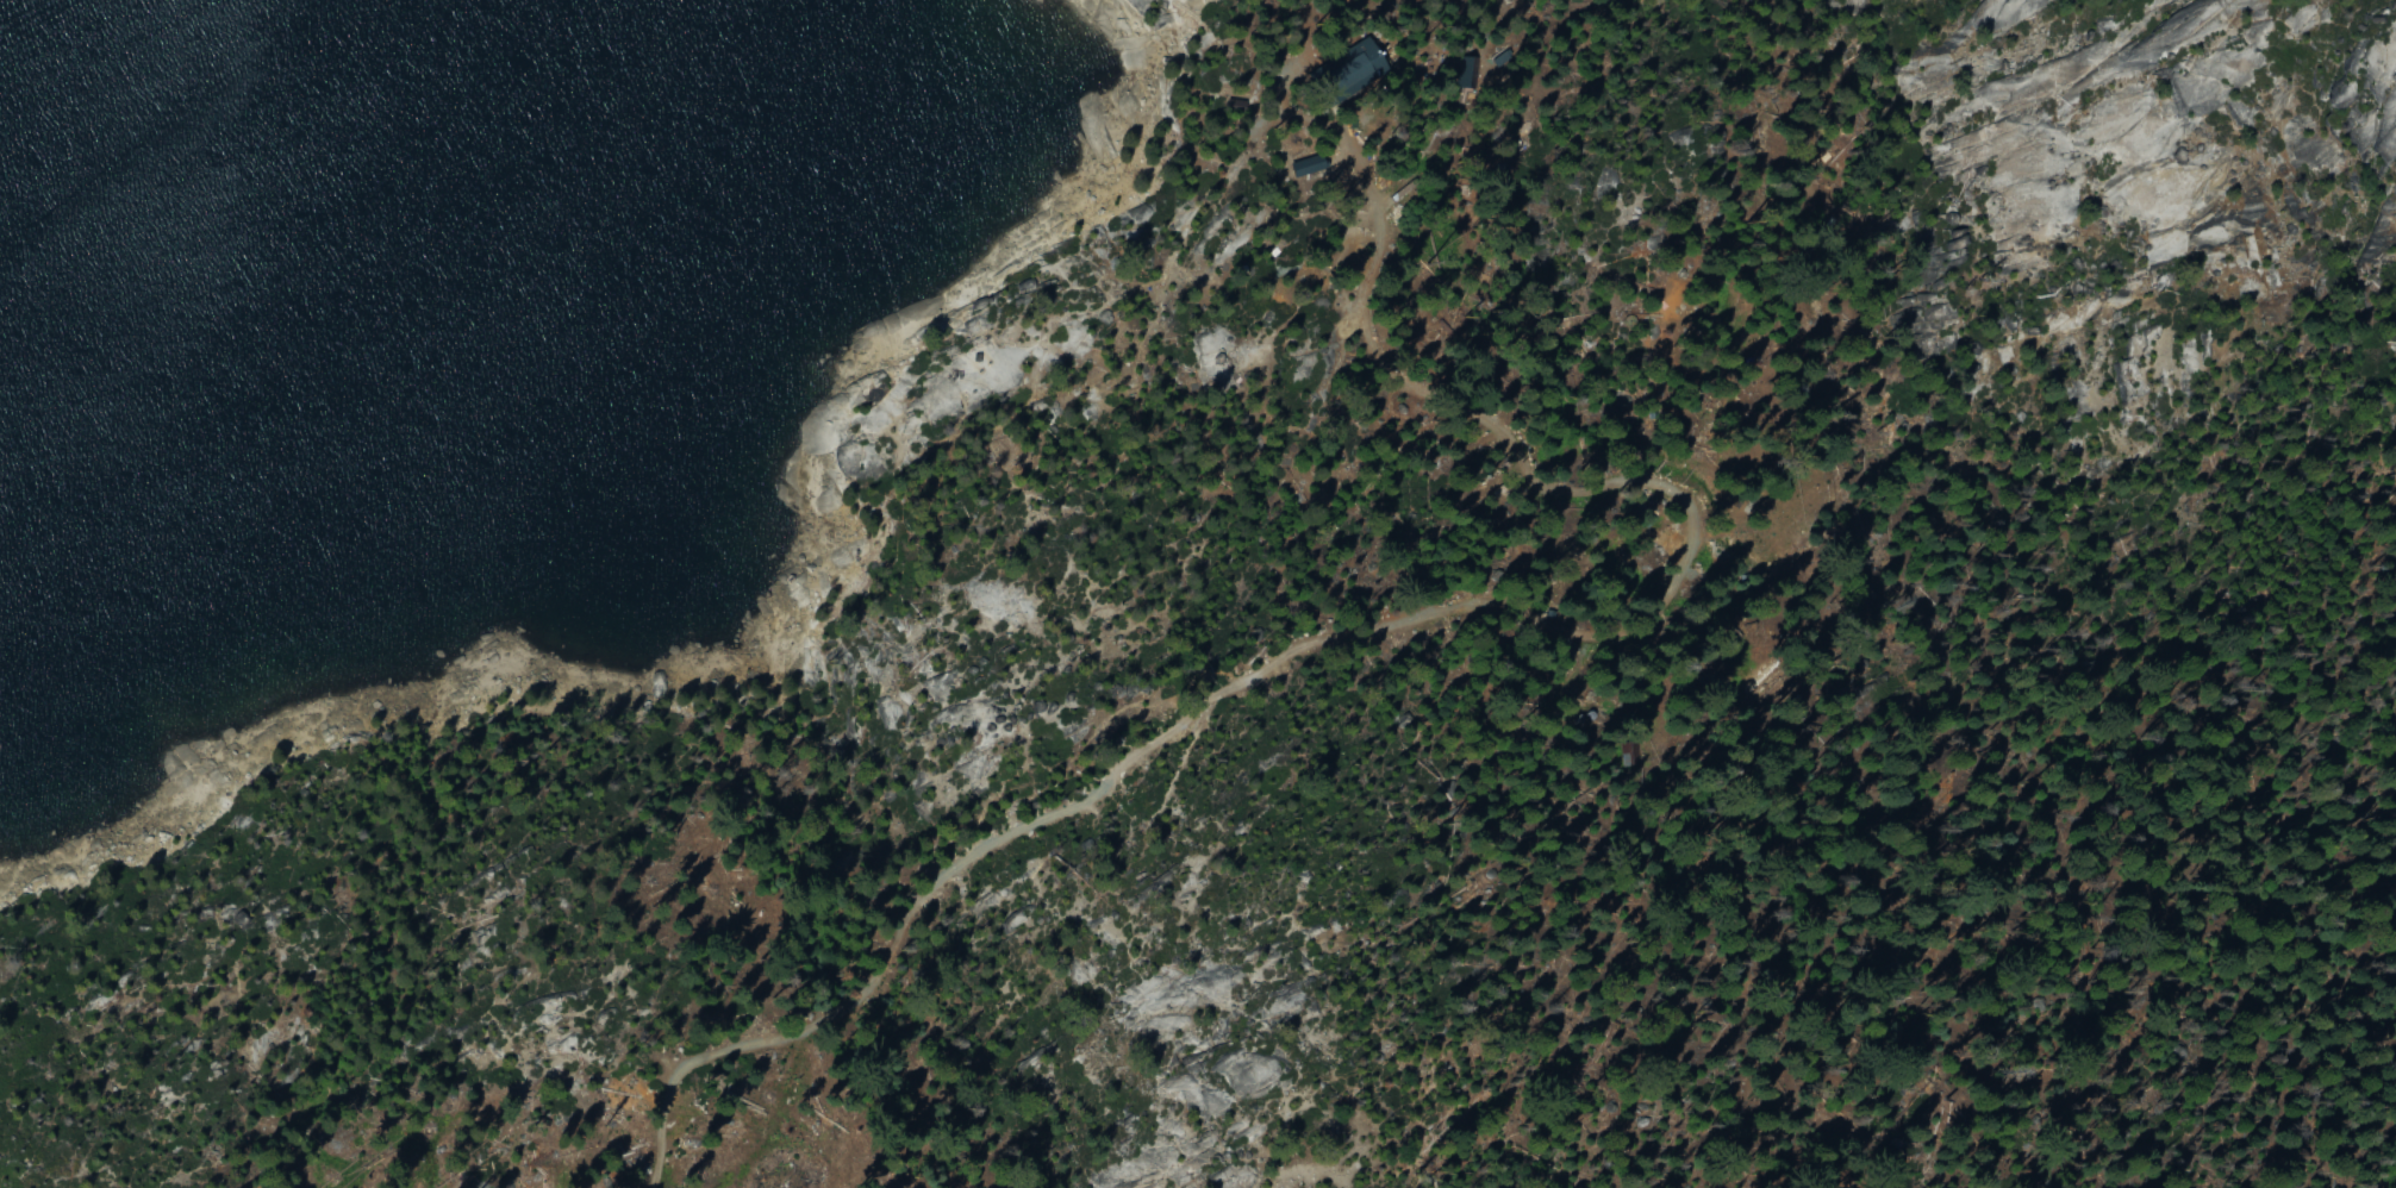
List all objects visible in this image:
pier: (1481, 1)
building: (1342, 70)
building: (1298, 165)
road: (1472, 605)

